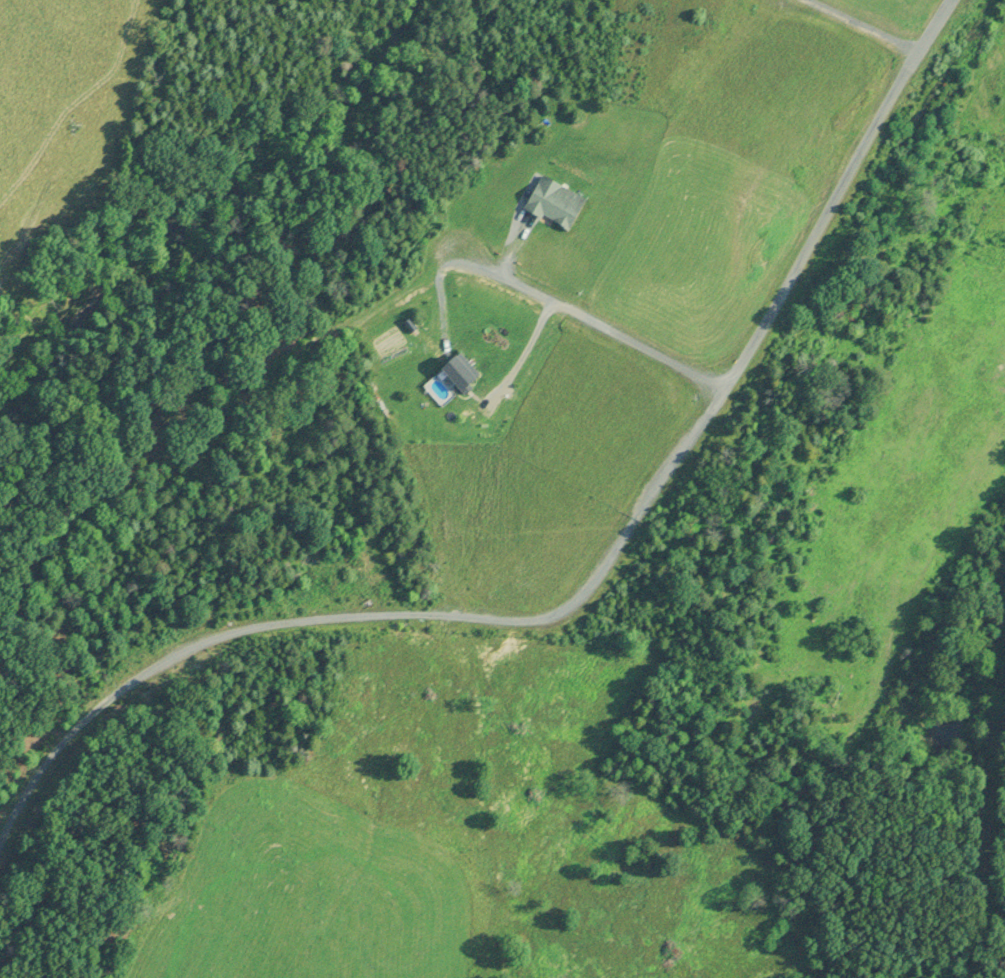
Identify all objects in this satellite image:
road: (858, 27)
building: (549, 206)
road: (583, 317)
road: (575, 612)

